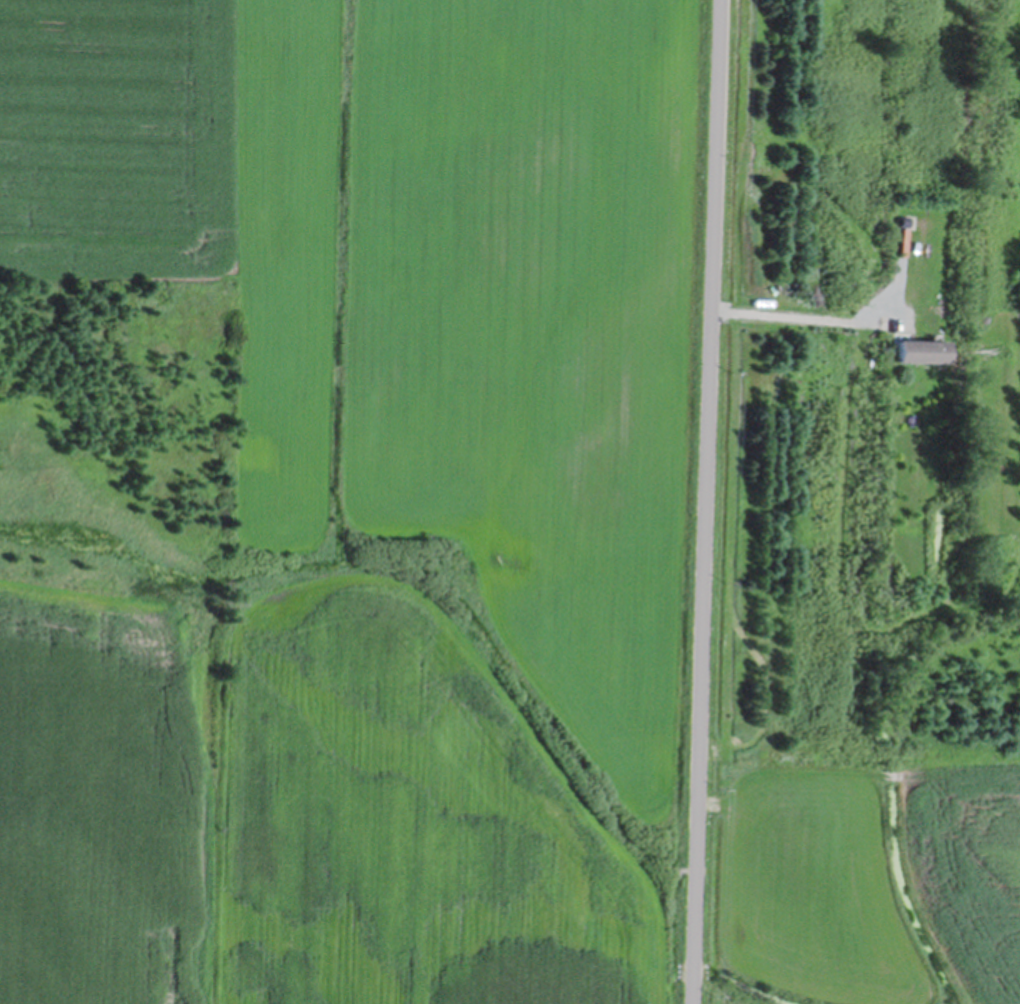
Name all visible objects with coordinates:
road: (806, 314)
building: (917, 348)
road: (704, 501)

